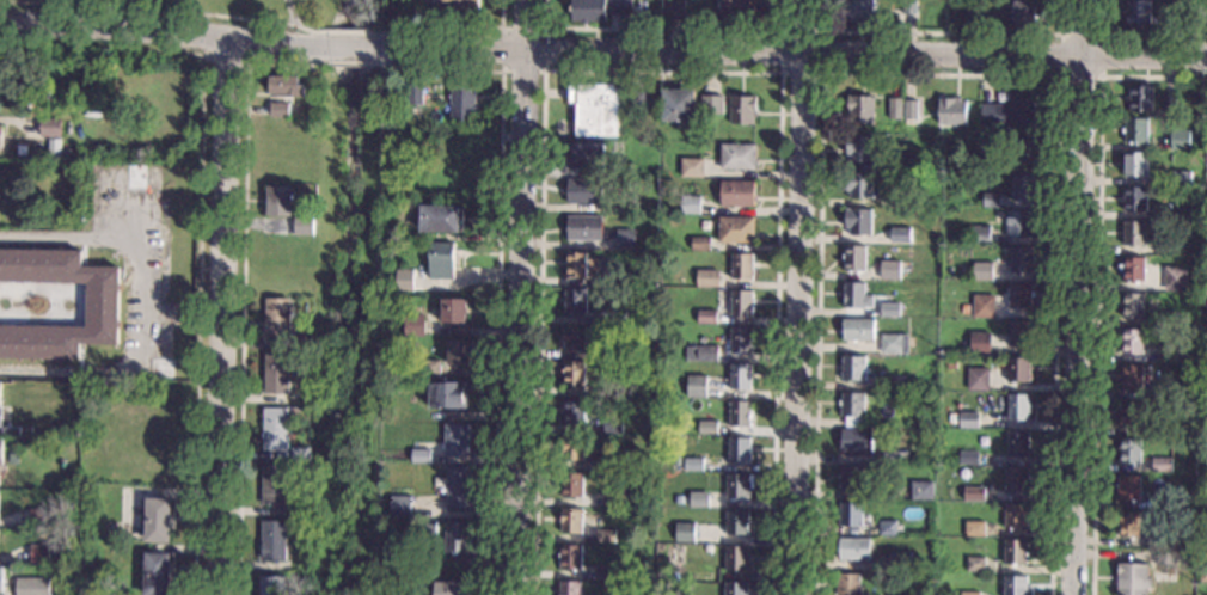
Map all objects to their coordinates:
building: (458, 6)
road: (155, 7)
building: (911, 8)
building: (599, 10)
building: (739, 10)
building: (675, 11)
park: (210, 12)
road: (289, 12)
building: (862, 13)
building: (1138, 14)
building: (1024, 17)
road: (1061, 17)
building: (1199, 17)
building: (973, 18)
road: (458, 27)
road: (543, 29)
road: (158, 30)
road: (663, 30)
road: (821, 31)
road: (349, 32)
road: (925, 32)
road: (1101, 33)
road: (1136, 33)
road: (350, 47)
road: (795, 57)
road: (204, 59)
road: (357, 62)
building: (6, 68)
road: (661, 70)
road: (941, 74)
building: (287, 88)
building: (17, 91)
building: (415, 97)
building: (1141, 100)
building: (61, 103)
building: (464, 104)
building: (637, 104)
building: (712, 105)
building: (679, 108)
building: (1170, 108)
building: (596, 110)
building: (895, 110)
building: (280, 111)
building: (742, 111)
building: (862, 111)
building: (911, 112)
building: (952, 114)
building: (1010, 116)
building: (50, 128)
building: (1136, 133)
building: (1, 137)
building: (1181, 141)
building: (55, 151)
building: (860, 151)
building: (1023, 152)
building: (584, 158)
building: (739, 159)
building: (907, 162)
building: (981, 165)
building: (1135, 166)
building: (693, 170)
building: (1182, 179)
building: (859, 186)
building: (1024, 188)
building: (312, 192)
building: (584, 192)
building: (739, 195)
building: (1135, 200)
building: (897, 201)
building: (992, 201)
building: (280, 202)
building: (625, 202)
building: (692, 206)
road: (129, 209)
building: (1190, 209)
building: (408, 210)
building: (441, 221)
building: (859, 222)
road: (201, 223)
building: (1022, 225)
building: (304, 227)
building: (586, 228)
building: (737, 232)
building: (980, 235)
building: (1134, 235)
building: (901, 237)
road: (123, 238)
building: (626, 240)
building: (700, 245)
building: (1168, 249)
building: (854, 259)
building: (441, 262)
building: (1022, 262)
building: (582, 266)
building: (743, 268)
building: (890, 271)
building: (981, 271)
building: (1133, 271)
building: (404, 280)
building: (709, 280)
building: (1174, 280)
building: (612, 281)
road: (497, 282)
road: (1096, 282)
road: (243, 296)
road: (520, 296)
road: (798, 296)
building: (857, 297)
building: (1021, 297)
road: (1073, 297)
building: (577, 302)
building: (103, 305)
building: (742, 305)
building: (982, 307)
building: (960, 308)
building: (1133, 308)
building: (455, 312)
building: (890, 312)
building: (609, 318)
road: (223, 319)
building: (278, 319)
building: (707, 319)
building: (1168, 320)
park: (351, 321)
building: (415, 326)
building: (858, 331)
building: (1021, 337)
building: (575, 339)
building: (742, 342)
building: (301, 343)
building: (1132, 343)
building: (895, 345)
building: (980, 345)
building: (609, 352)
building: (461, 354)
building: (1170, 354)
building: (1206, 354)
building: (703, 355)
building: (950, 364)
road: (67, 369)
building: (431, 370)
building: (854, 370)
building: (1018, 373)
building: (575, 374)
building: (277, 375)
building: (741, 378)
building: (976, 379)
building: (1132, 380)
building: (899, 385)
building: (614, 387)
building: (697, 387)
building: (1206, 391)
building: (1163, 393)
building: (449, 395)
building: (387, 398)
building: (0, 399)
building: (853, 406)
building: (1019, 409)
building: (575, 413)
building: (741, 415)
building: (1131, 416)
building: (954, 422)
building: (969, 422)
building: (613, 425)
building: (707, 429)
building: (1163, 429)
building: (25, 430)
building: (276, 431)
building: (458, 441)
building: (857, 441)
building: (1018, 446)
building: (0, 450)
building: (574, 450)
building: (740, 452)
building: (1131, 452)
building: (301, 454)
building: (422, 458)
building: (895, 459)
building: (969, 459)
building: (951, 460)
building: (676, 461)
building: (608, 465)
building: (1163, 466)
building: (696, 467)
building: (852, 479)
building: (1017, 483)
building: (574, 486)
building: (459, 487)
building: (740, 487)
building: (1129, 489)
building: (923, 492)
building: (278, 493)
building: (975, 496)
building: (678, 499)
building: (1203, 501)
building: (700, 502)
building: (1160, 502)
building: (623, 503)
building: (402, 509)
building: (851, 515)
building: (1017, 517)
building: (38, 519)
building: (116, 521)
building: (158, 522)
building: (572, 522)
building: (737, 525)
building: (1128, 527)
building: (429, 528)
building: (888, 529)
building: (975, 530)
building: (686, 534)
building: (459, 538)
building: (607, 538)
building: (1205, 539)
building: (1168, 540)
building: (274, 542)
building: (439, 547)
building: (854, 551)
building: (1017, 553)
building: (39, 554)
building: (1166, 558)
building: (571, 559)
building: (736, 560)
building: (901, 563)
building: (699, 564)
building: (976, 566)
building: (618, 571)
building: (606, 573)
building: (157, 575)
building: (1203, 575)
building: (1133, 581)
building: (2, 582)
building: (848, 585)
building: (32, 587)
building: (274, 587)
building: (1016, 587)
building: (453, 589)
building: (571, 589)
building: (736, 589)
building: (968, 594)

